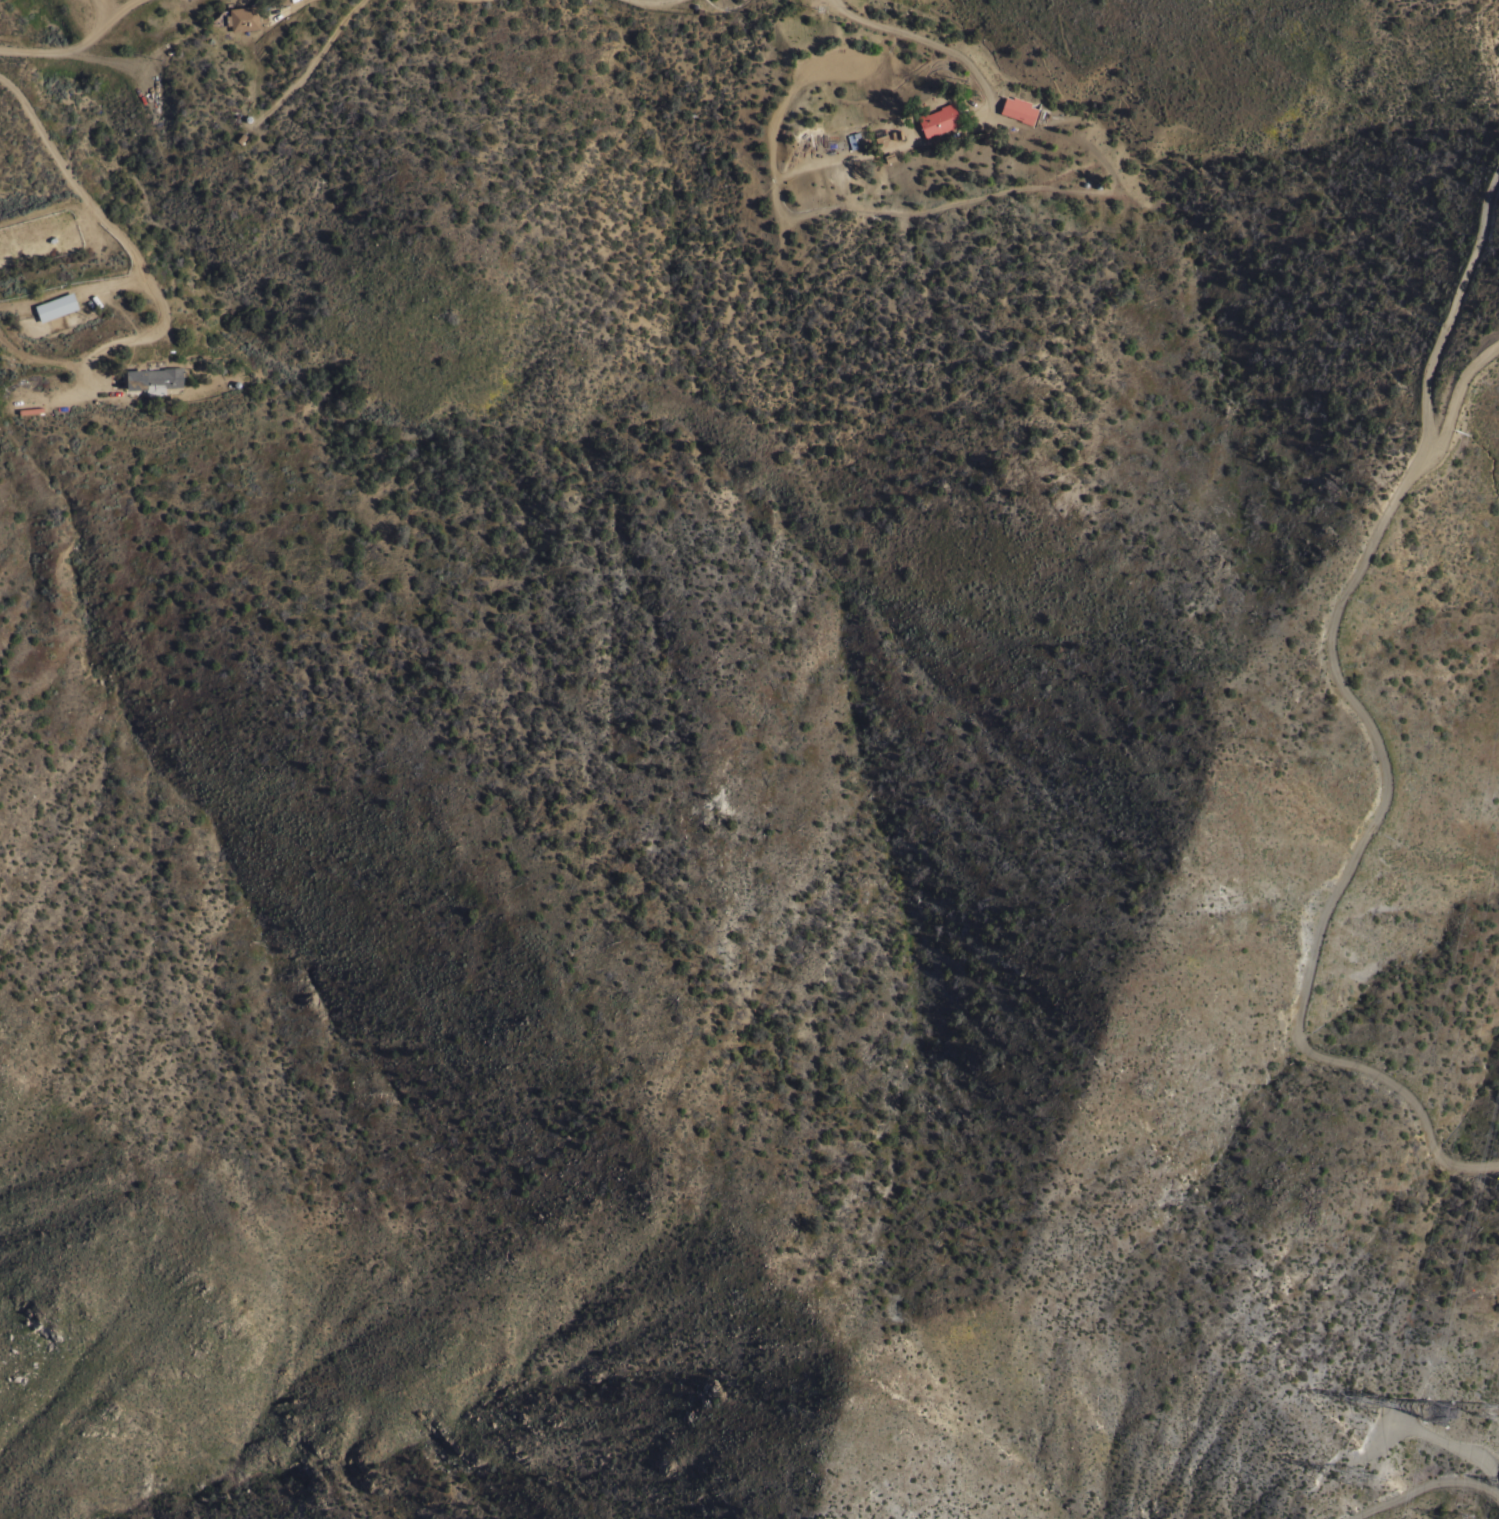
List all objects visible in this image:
road: (655, 3)
road: (294, 4)
road: (103, 12)
building: (242, 17)
road: (78, 48)
road: (310, 66)
building: (1018, 108)
road: (993, 113)
building: (938, 119)
road: (143, 271)
road: (72, 288)
building: (56, 306)
building: (154, 379)
road: (1359, 696)
road: (1416, 1476)
power tower: (1359, 1480)

